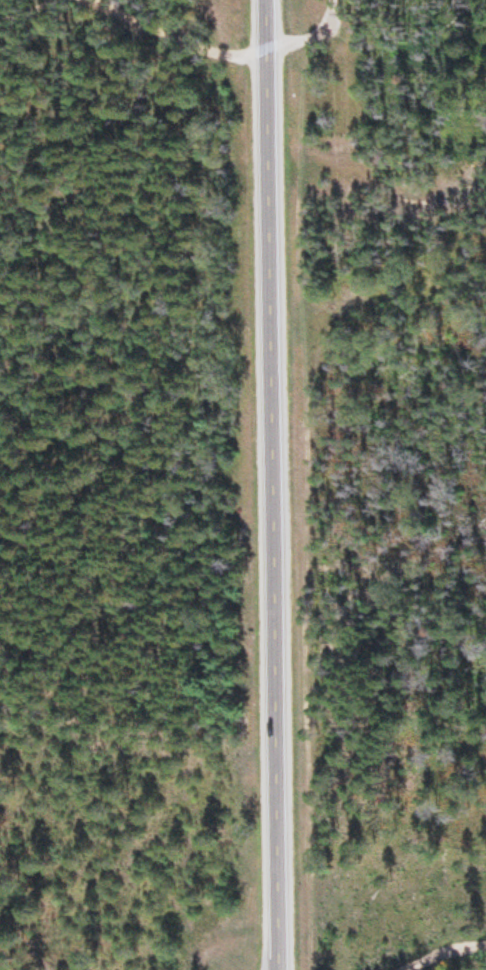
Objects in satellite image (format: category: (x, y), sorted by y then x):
road: (20, 6)
road: (306, 29)
road: (173, 38)
road: (270, 485)
road: (447, 953)

